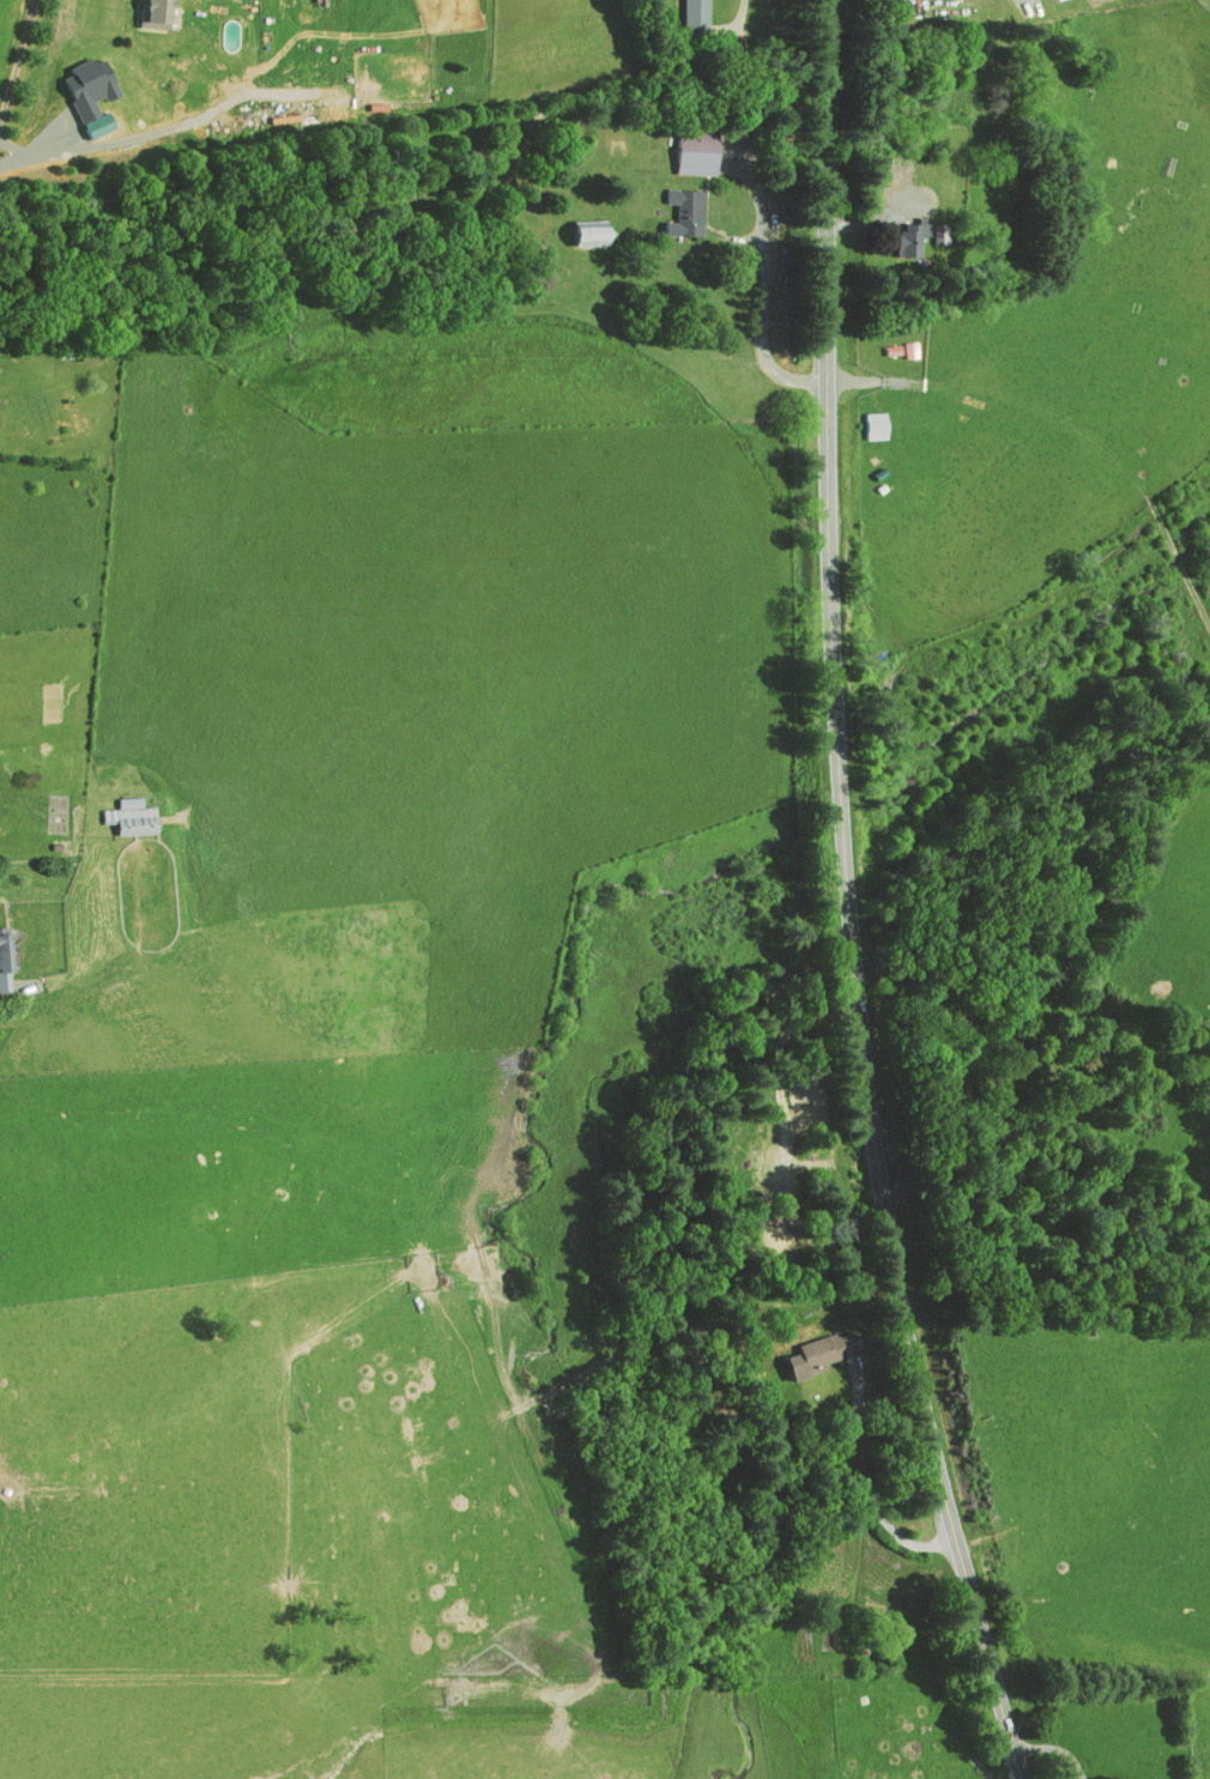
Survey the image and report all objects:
road: (1027, 1)
road: (744, 7)
road: (18, 63)
road: (763, 271)
road: (920, 345)
road: (847, 898)

